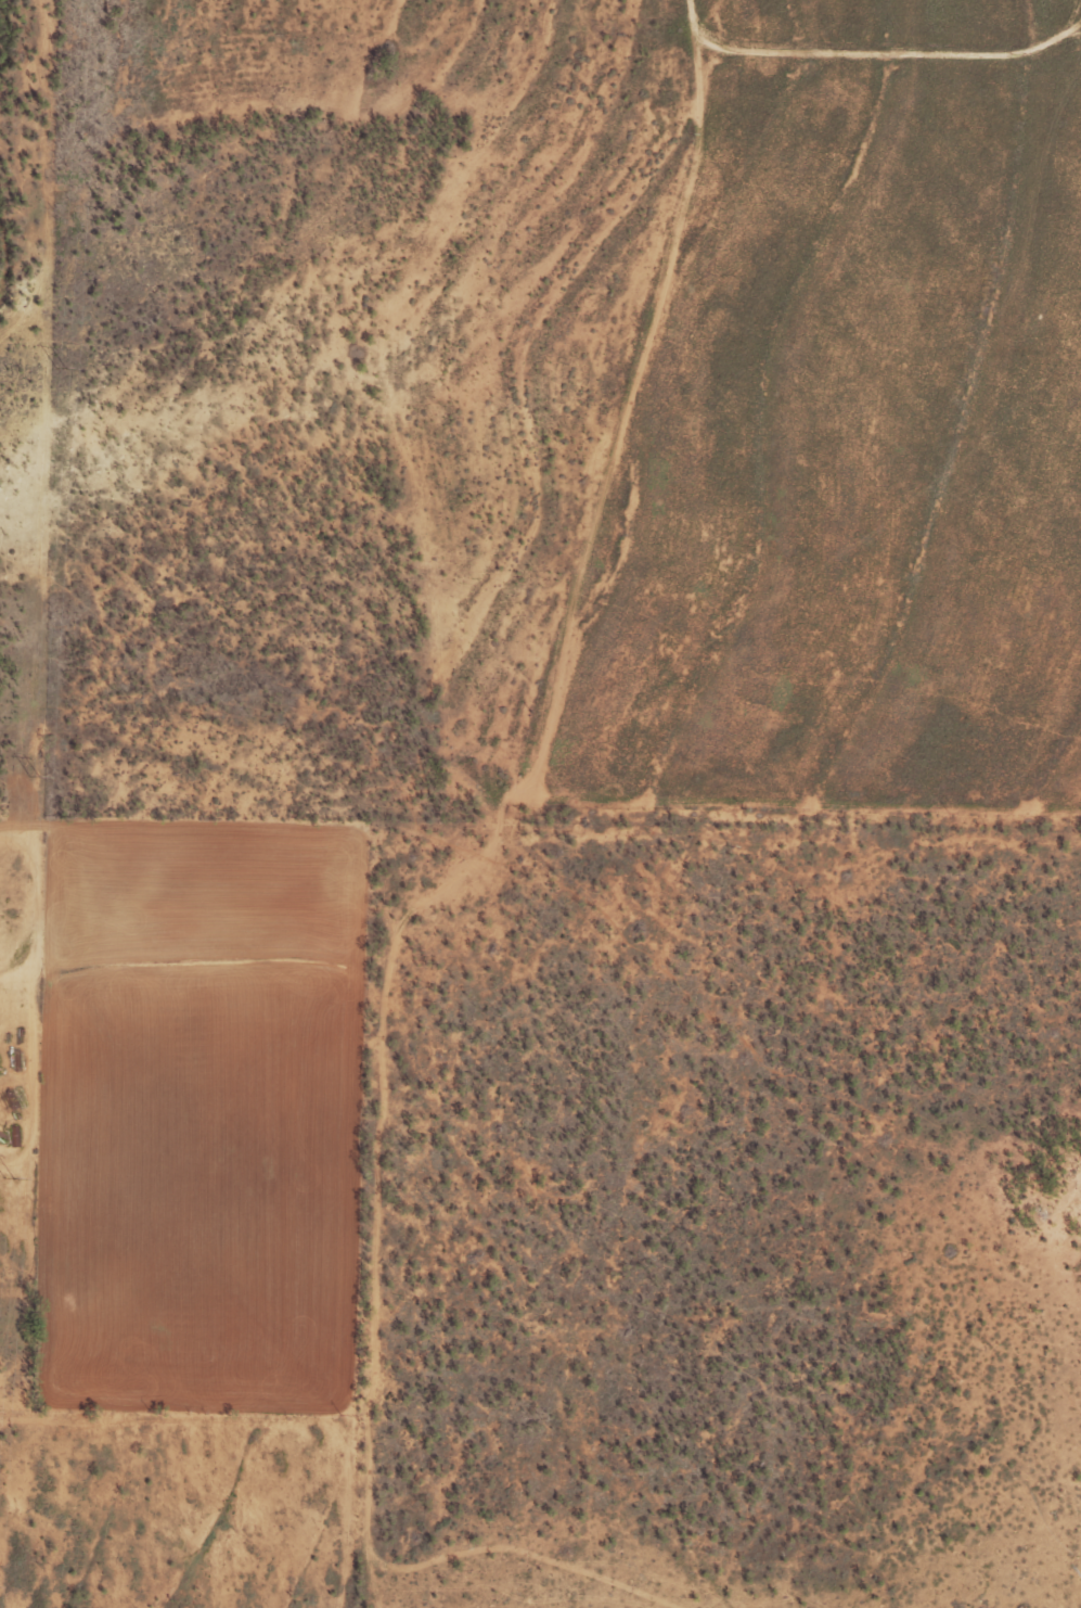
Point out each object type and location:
power tower: (59, 368)
power tower: (31, 780)
power tower: (9, 1178)

